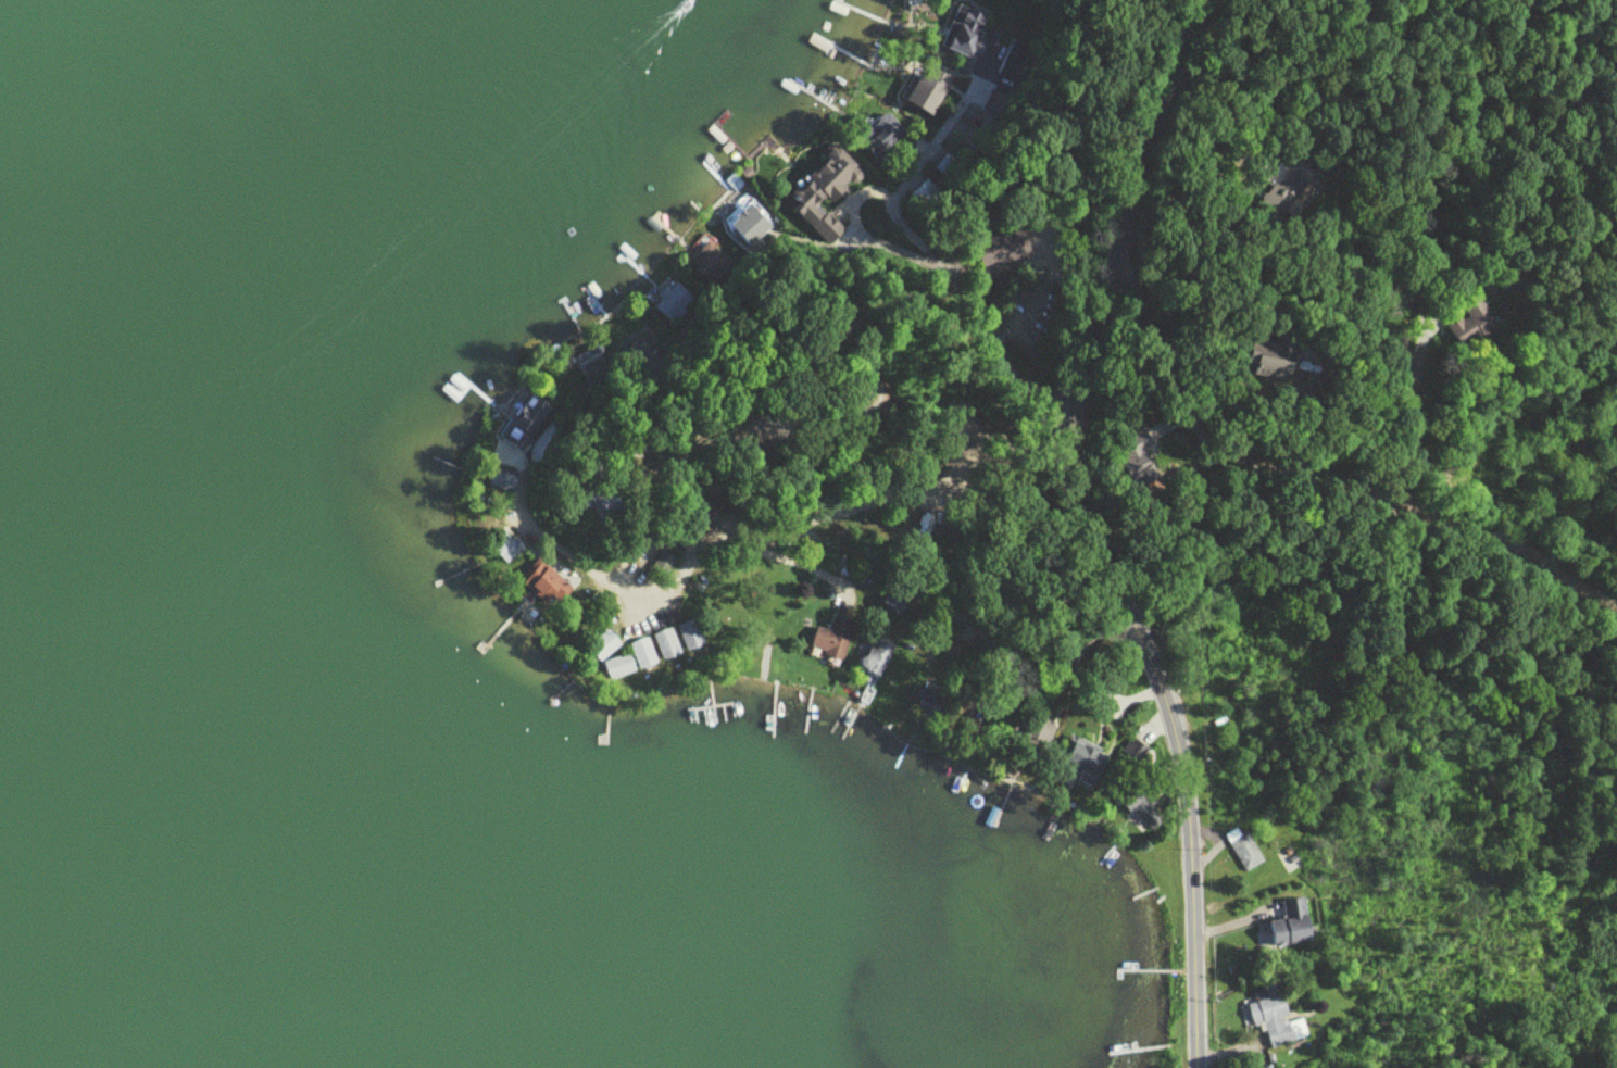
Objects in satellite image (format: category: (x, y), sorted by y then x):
building: (965, 33)
road: (944, 118)
road: (1224, 127)
road: (852, 193)
building: (1288, 210)
building: (750, 226)
building: (709, 263)
road: (910, 276)
building: (1470, 324)
building: (1257, 362)
road: (1407, 411)
building: (1125, 462)
road: (1350, 482)
road: (778, 514)
road: (1088, 530)
road: (780, 552)
building: (513, 553)
building: (555, 590)
road: (1026, 632)
building: (693, 638)
building: (668, 648)
building: (635, 663)
building: (1089, 701)
building: (1025, 732)
building: (1070, 761)
building: (1132, 761)
building: (1242, 854)
building: (1283, 929)
building: (1273, 1023)

